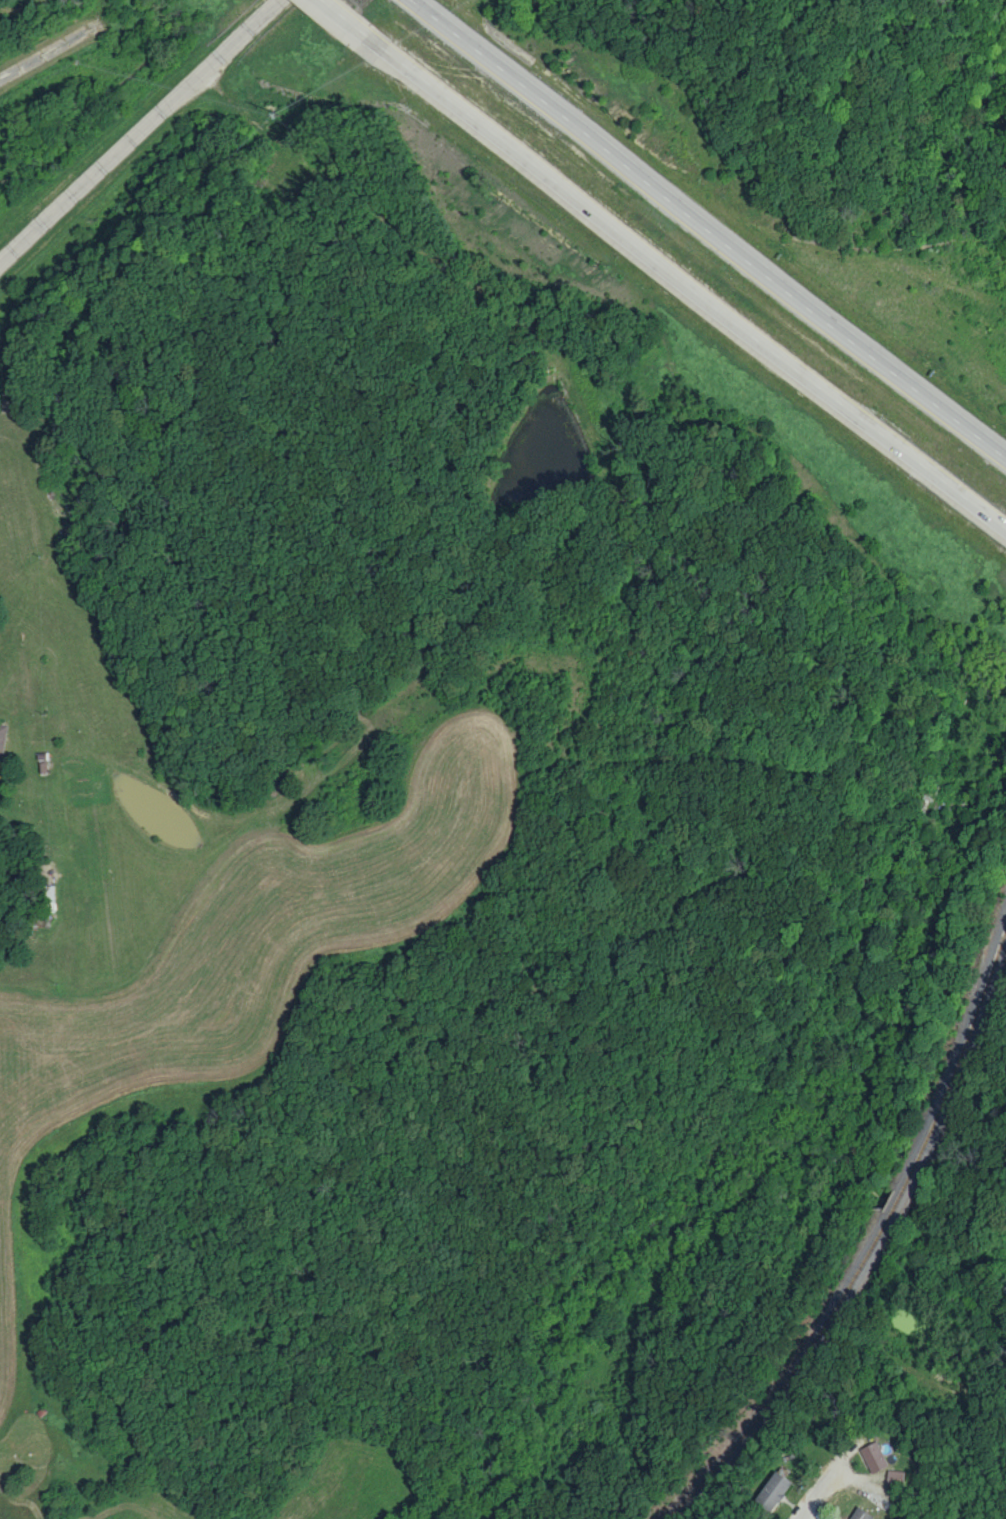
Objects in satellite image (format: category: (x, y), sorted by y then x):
road: (329, 18)
road: (61, 48)
road: (139, 133)
road: (702, 235)
road: (676, 292)
building: (2, 737)
building: (48, 898)
railway: (876, 1235)
road: (959, 1277)
building: (873, 1457)
building: (896, 1477)
building: (772, 1491)
road: (822, 1491)
building: (859, 1514)

